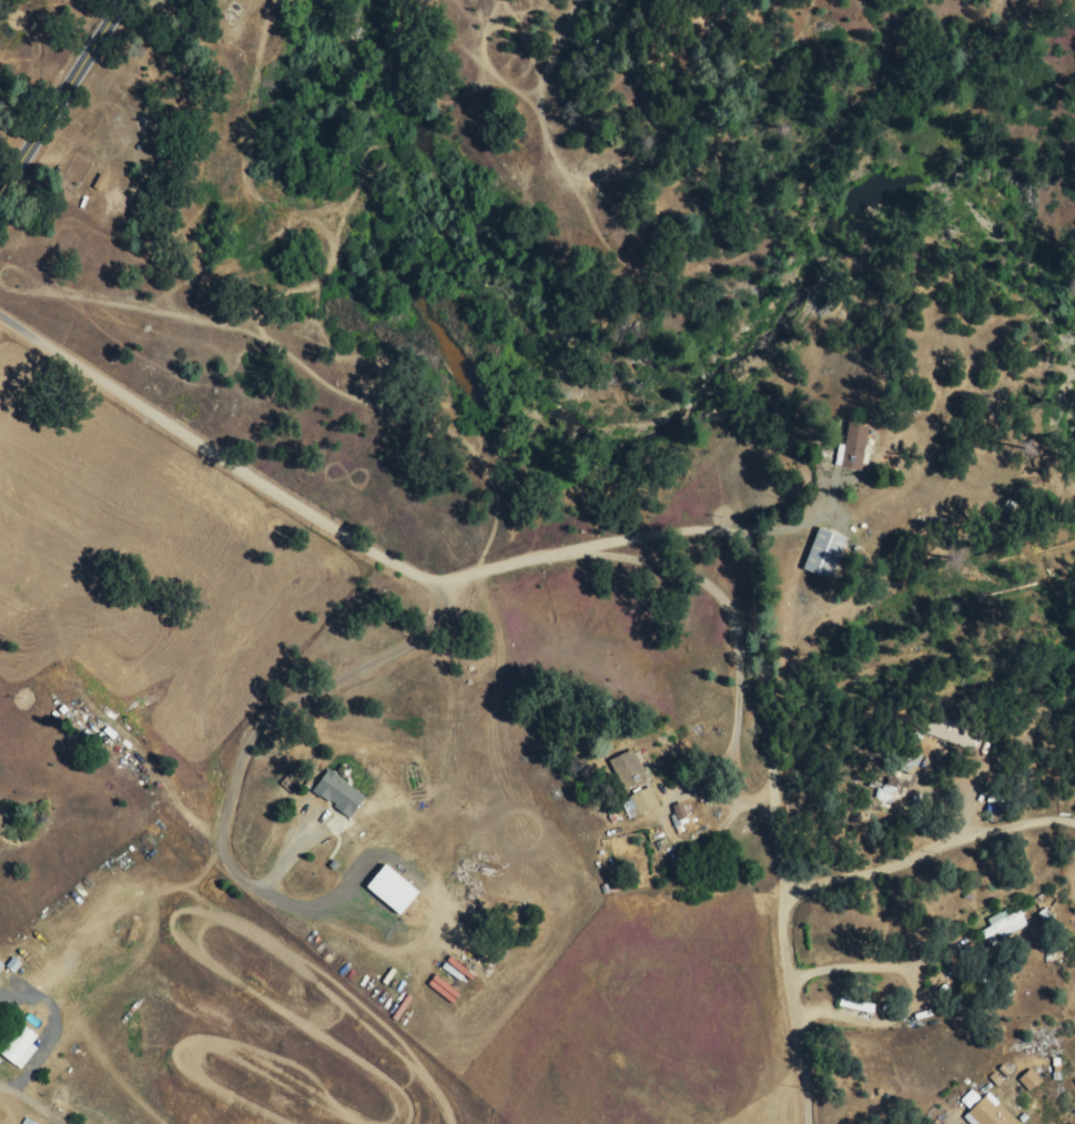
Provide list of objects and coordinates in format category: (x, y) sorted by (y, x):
road: (61, 95)
road: (39, 365)
building: (848, 446)
building: (821, 553)
road: (491, 568)
road: (724, 639)
road: (313, 702)
building: (946, 732)
building: (625, 769)
building: (885, 789)
building: (342, 791)
building: (677, 812)
road: (180, 813)
road: (787, 845)
road: (925, 848)
road: (931, 887)
building: (397, 888)
building: (1000, 925)
building: (16, 962)
building: (1, 965)
road: (783, 973)
building: (854, 1003)
building: (22, 1047)
building: (1022, 1076)
road: (963, 1088)
building: (980, 1108)

